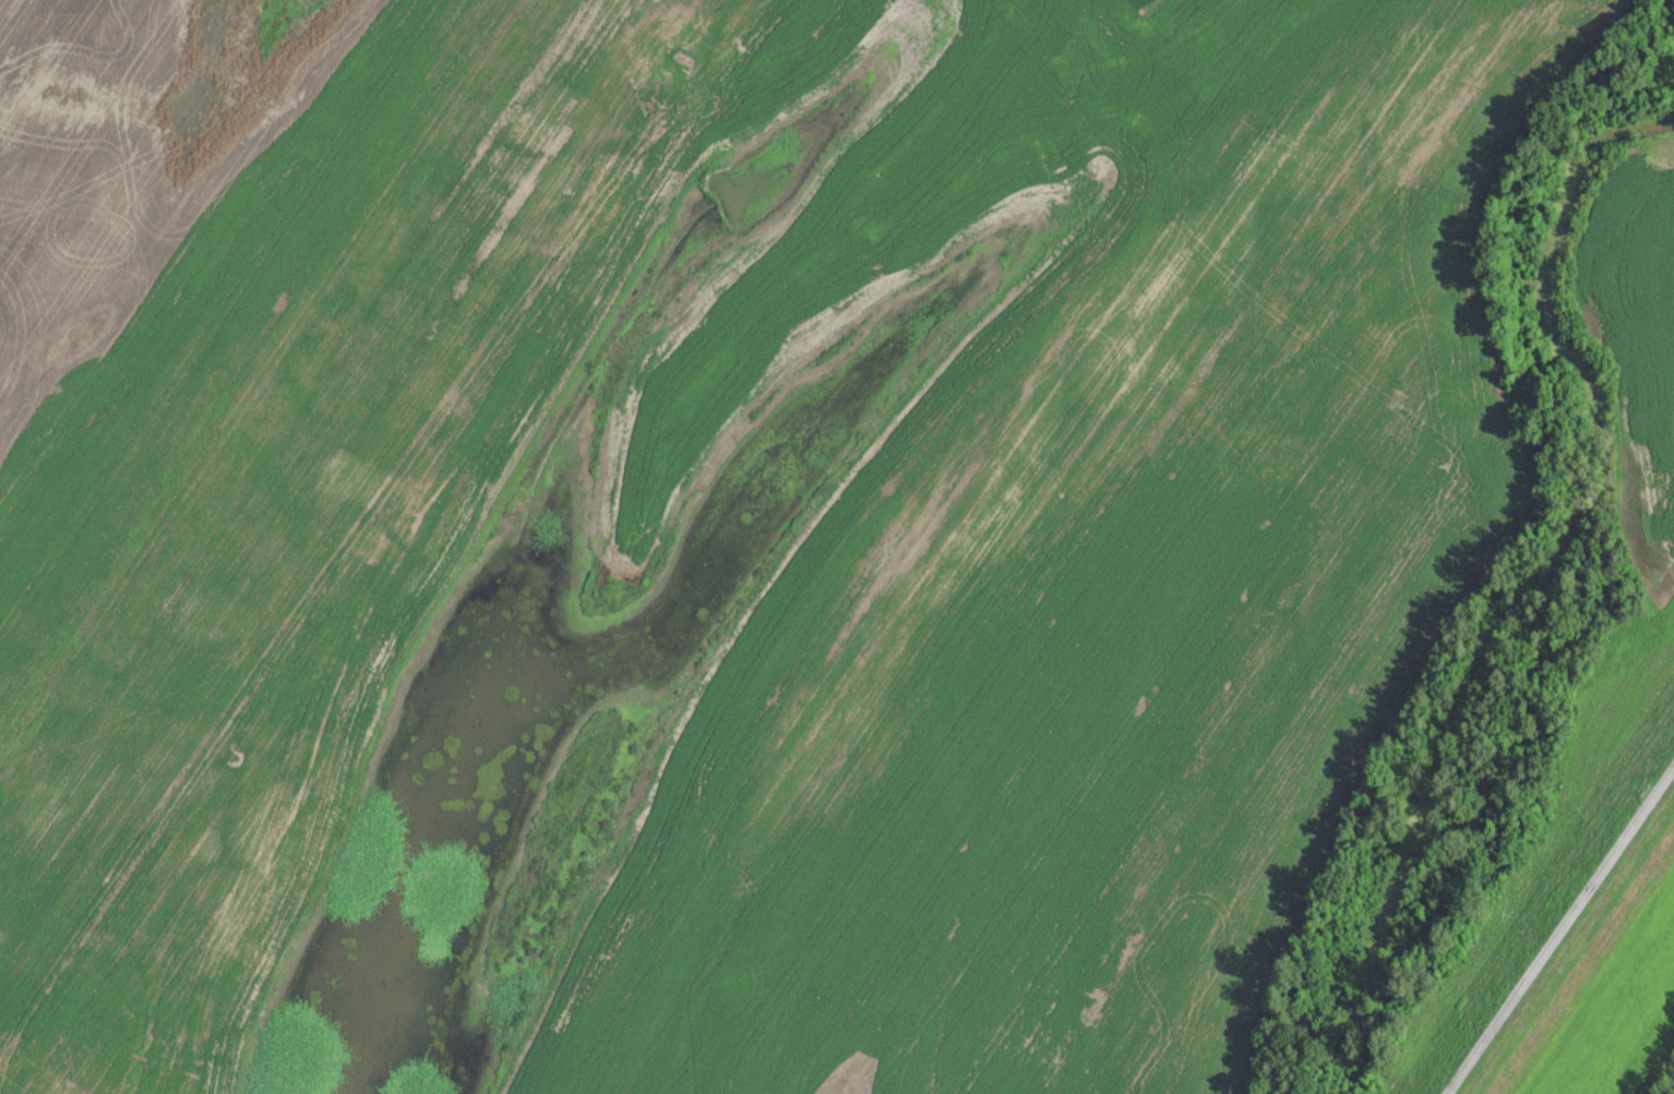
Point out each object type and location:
road: (1559, 927)

